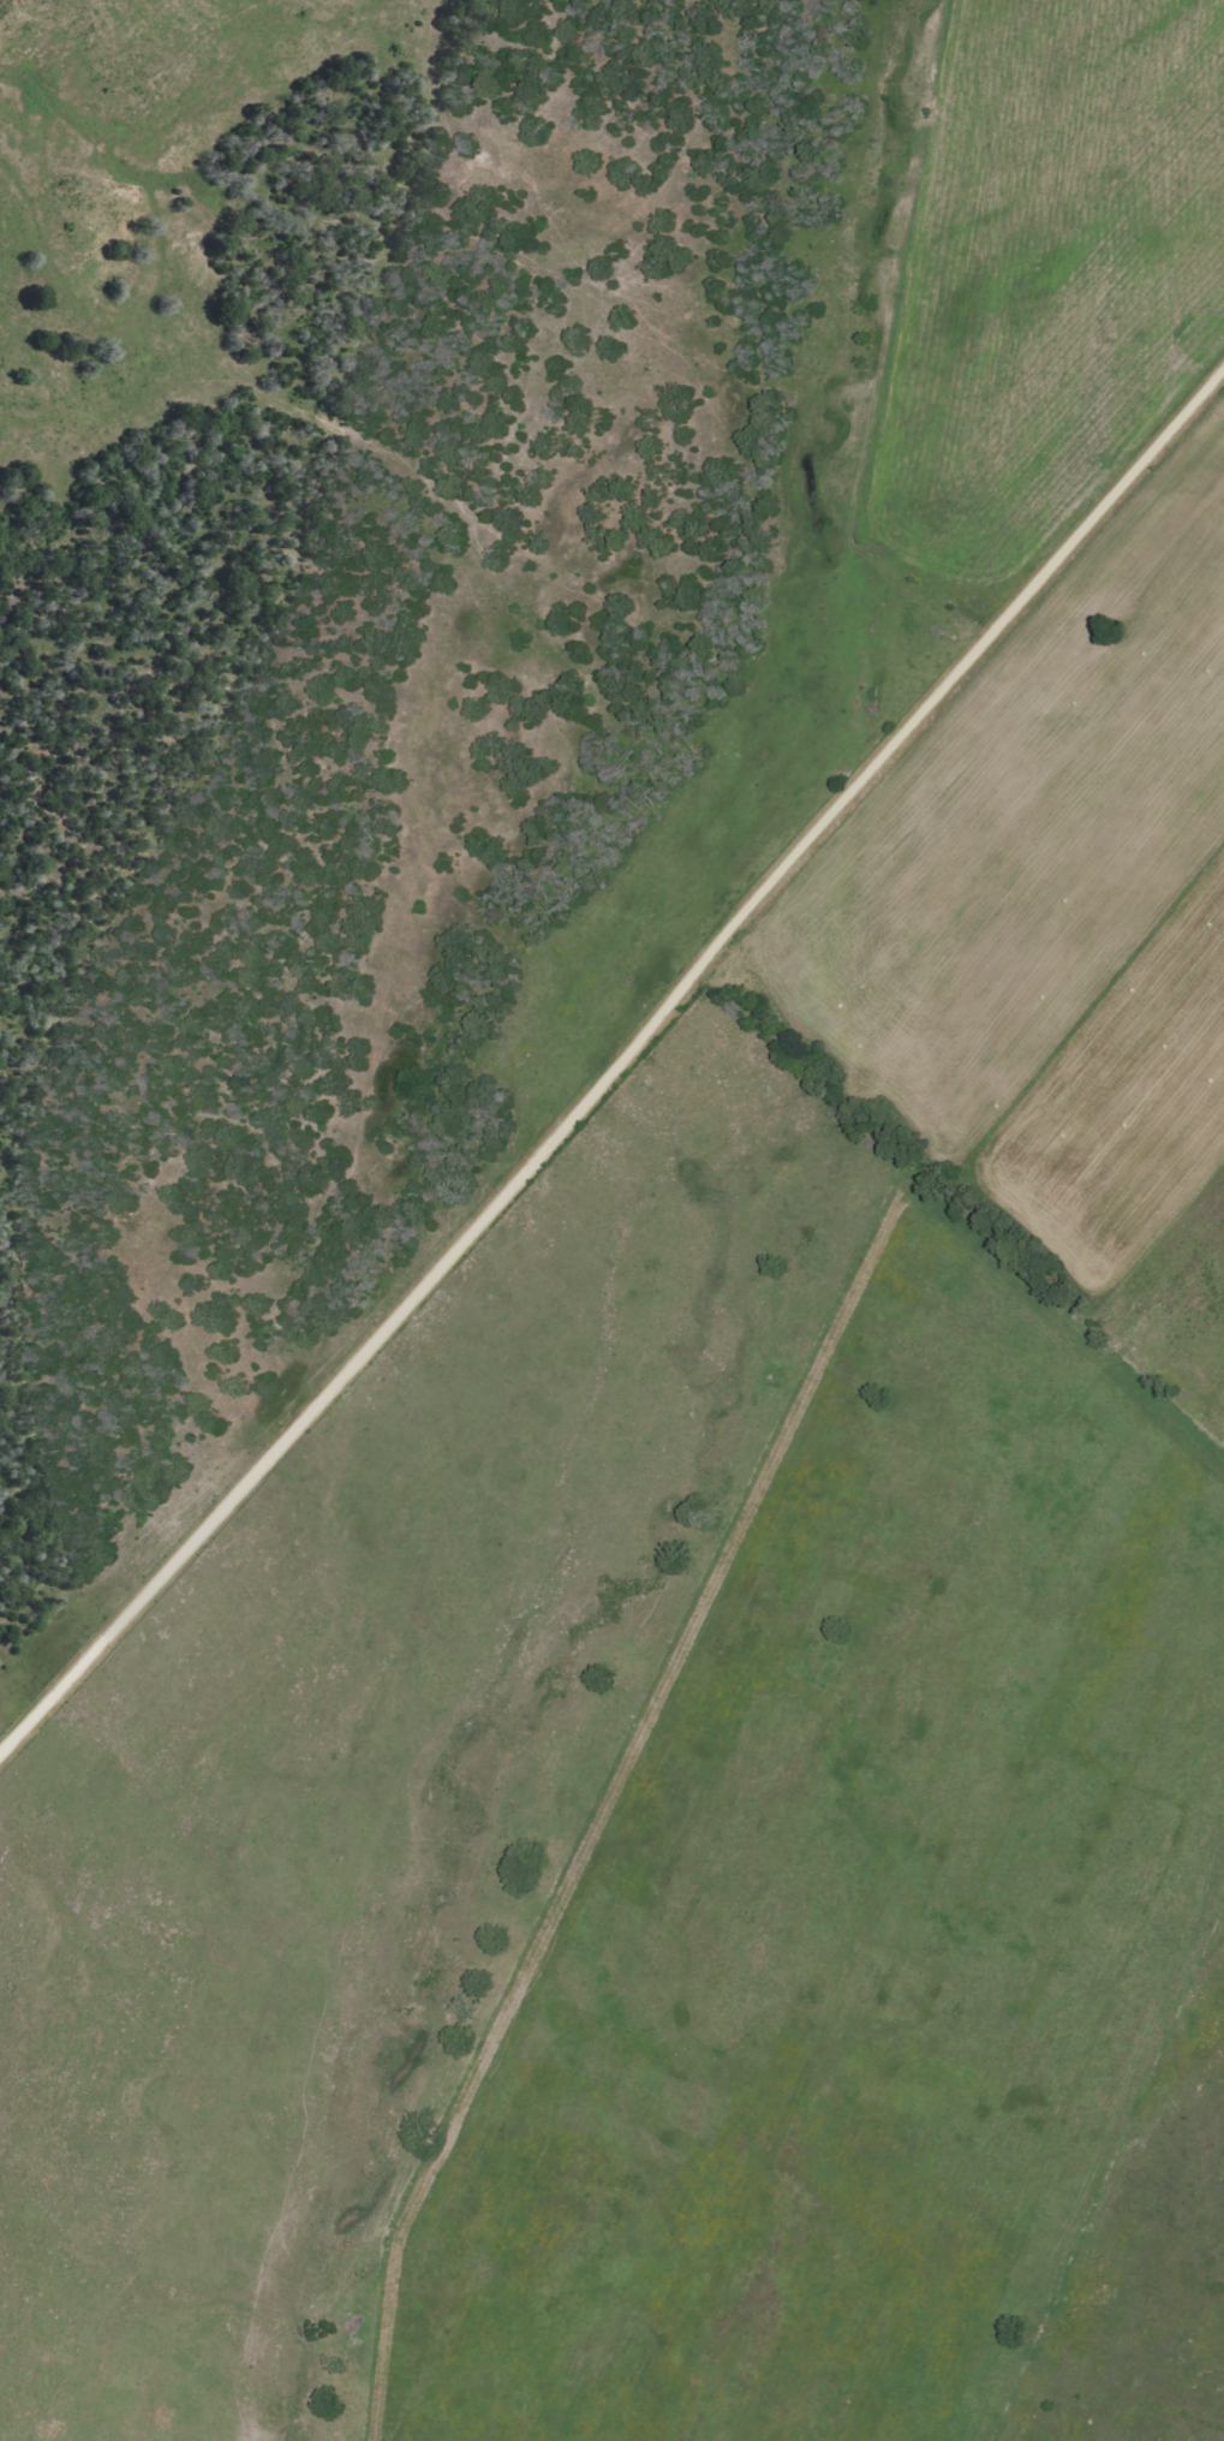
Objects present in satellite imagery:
road: (371, 893)
road: (617, 1058)

